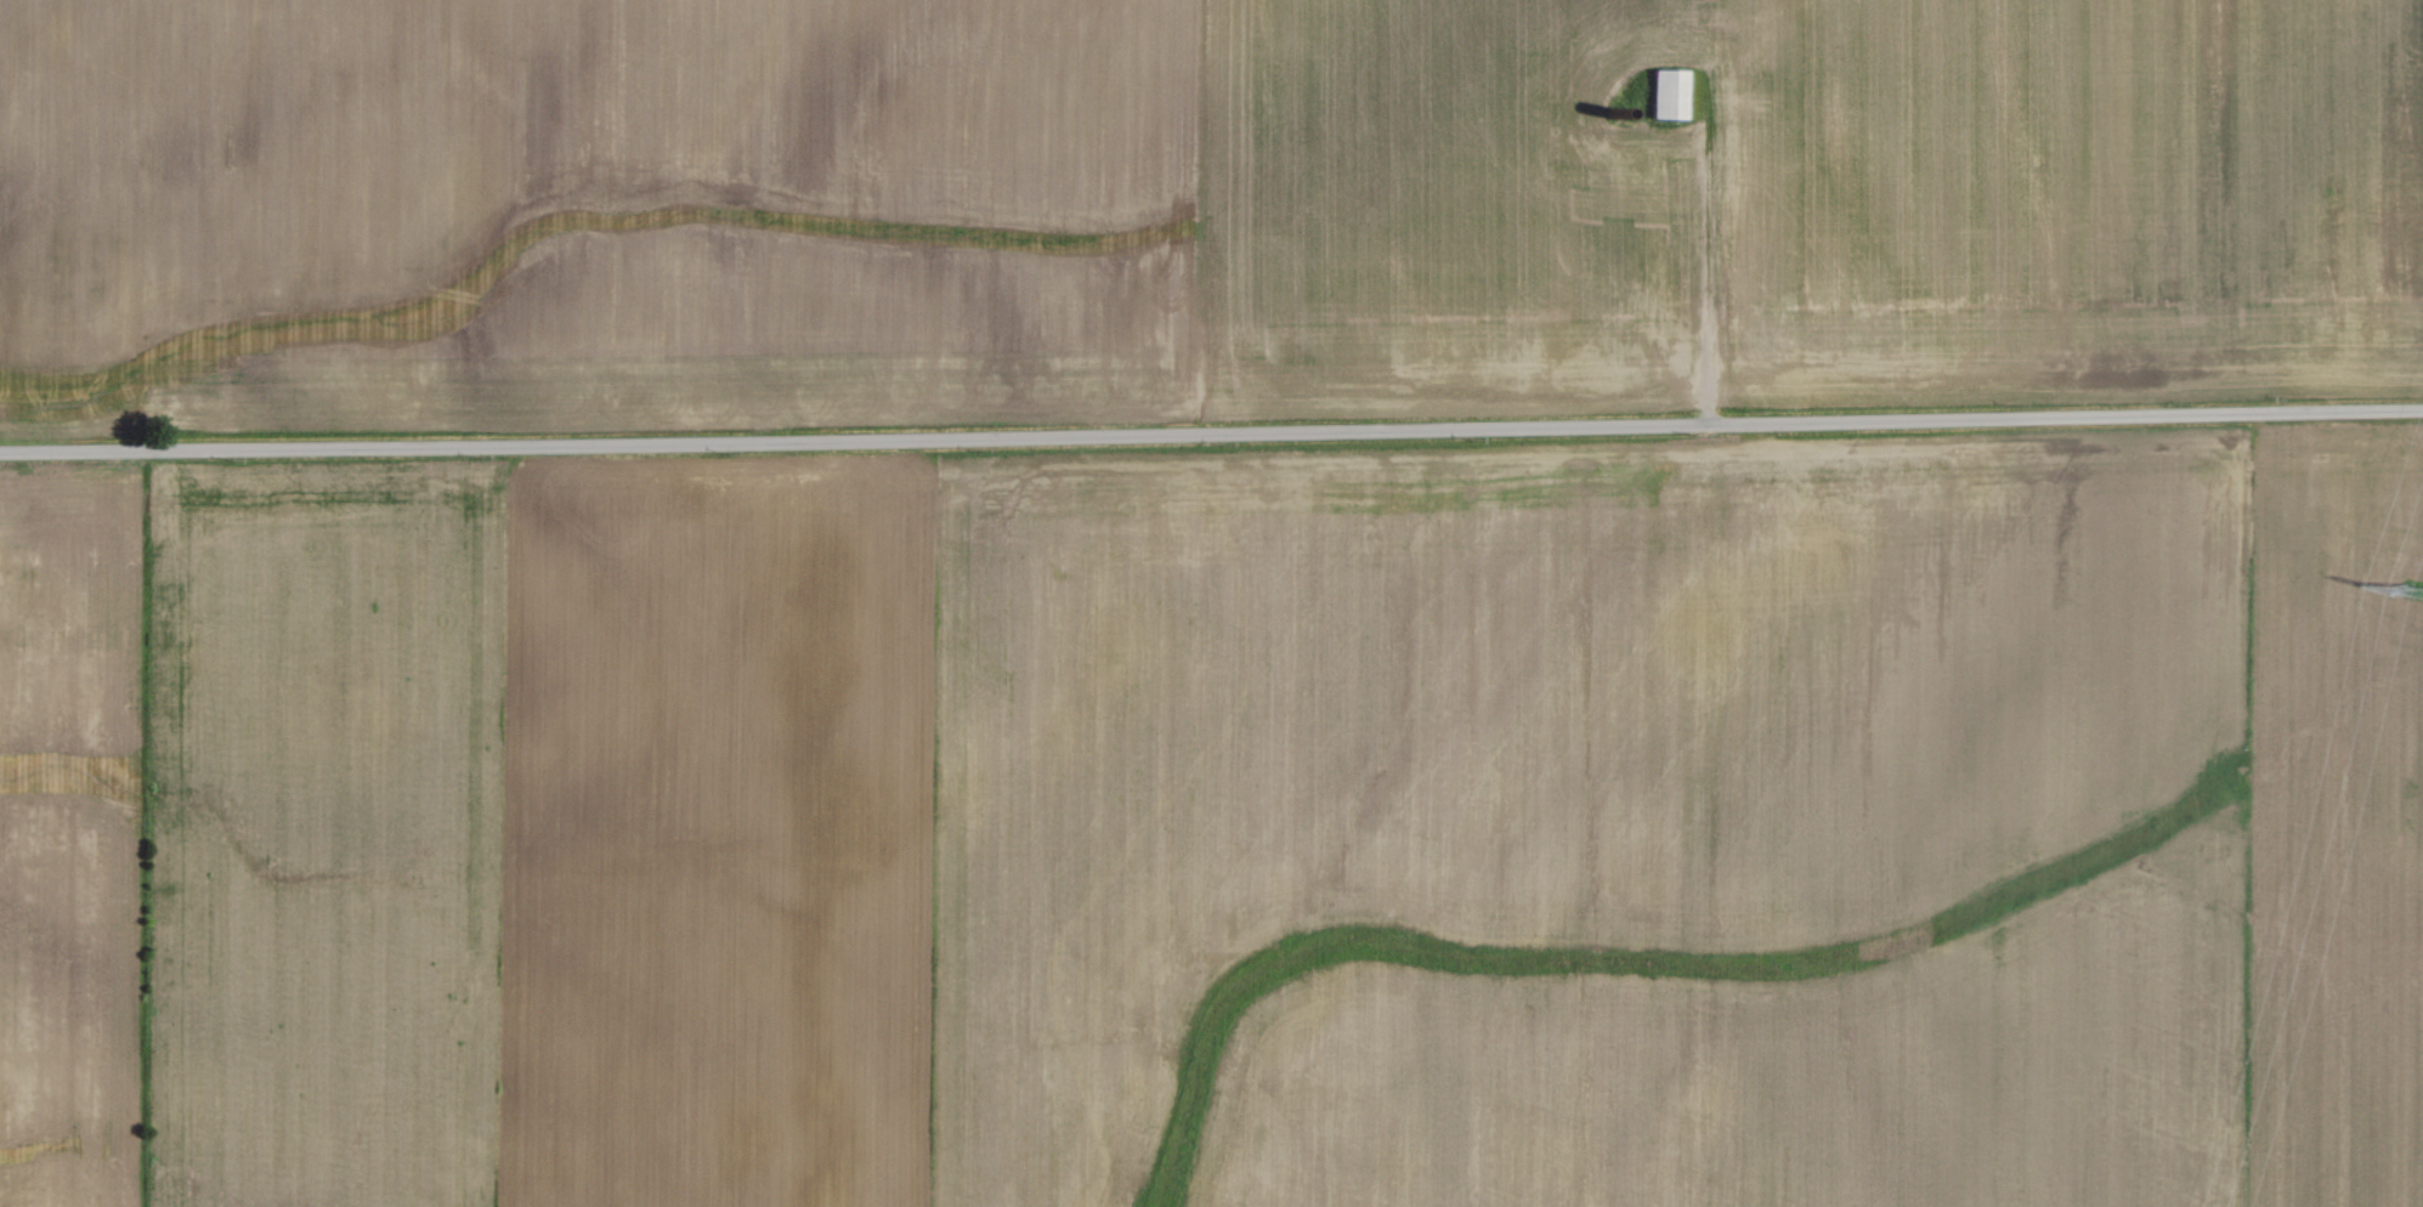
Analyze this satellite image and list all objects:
building: (1670, 95)
road: (1211, 427)
power tower: (2417, 591)

